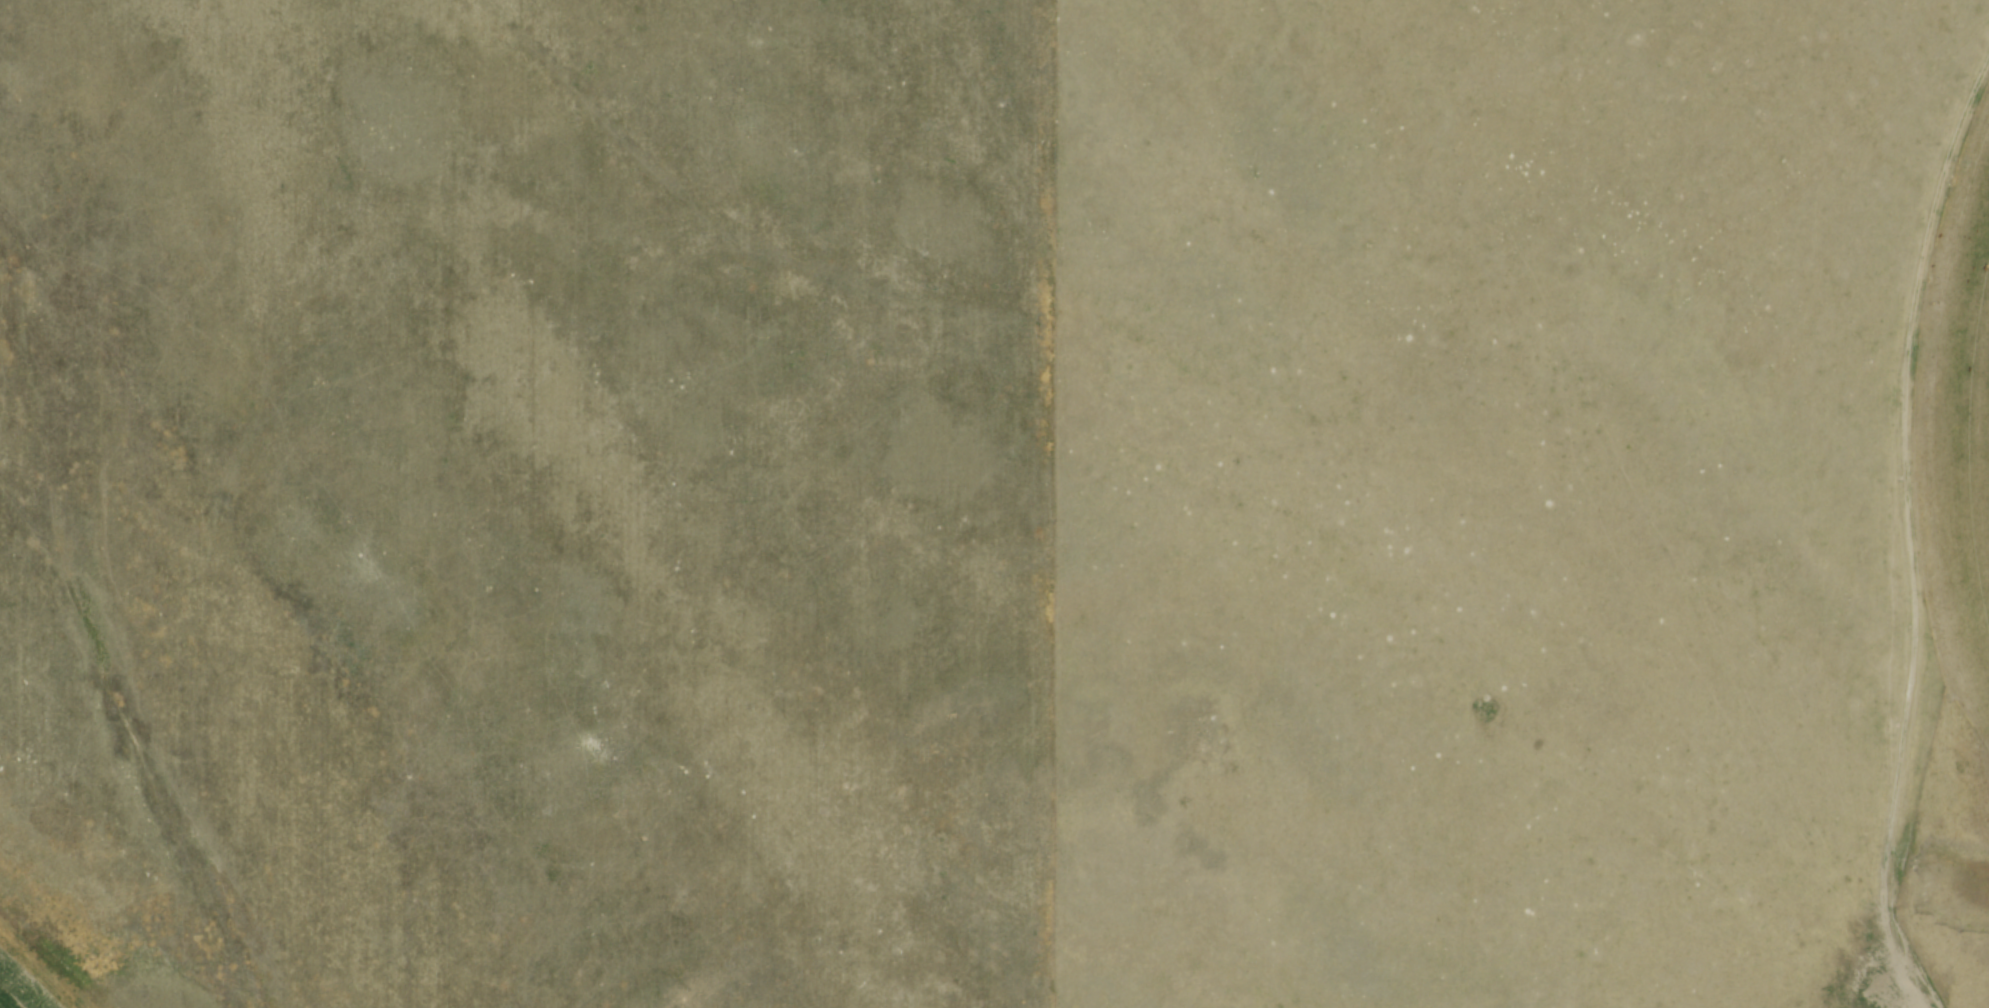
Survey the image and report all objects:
crop: (1961, 433)
crop: (32, 977)

